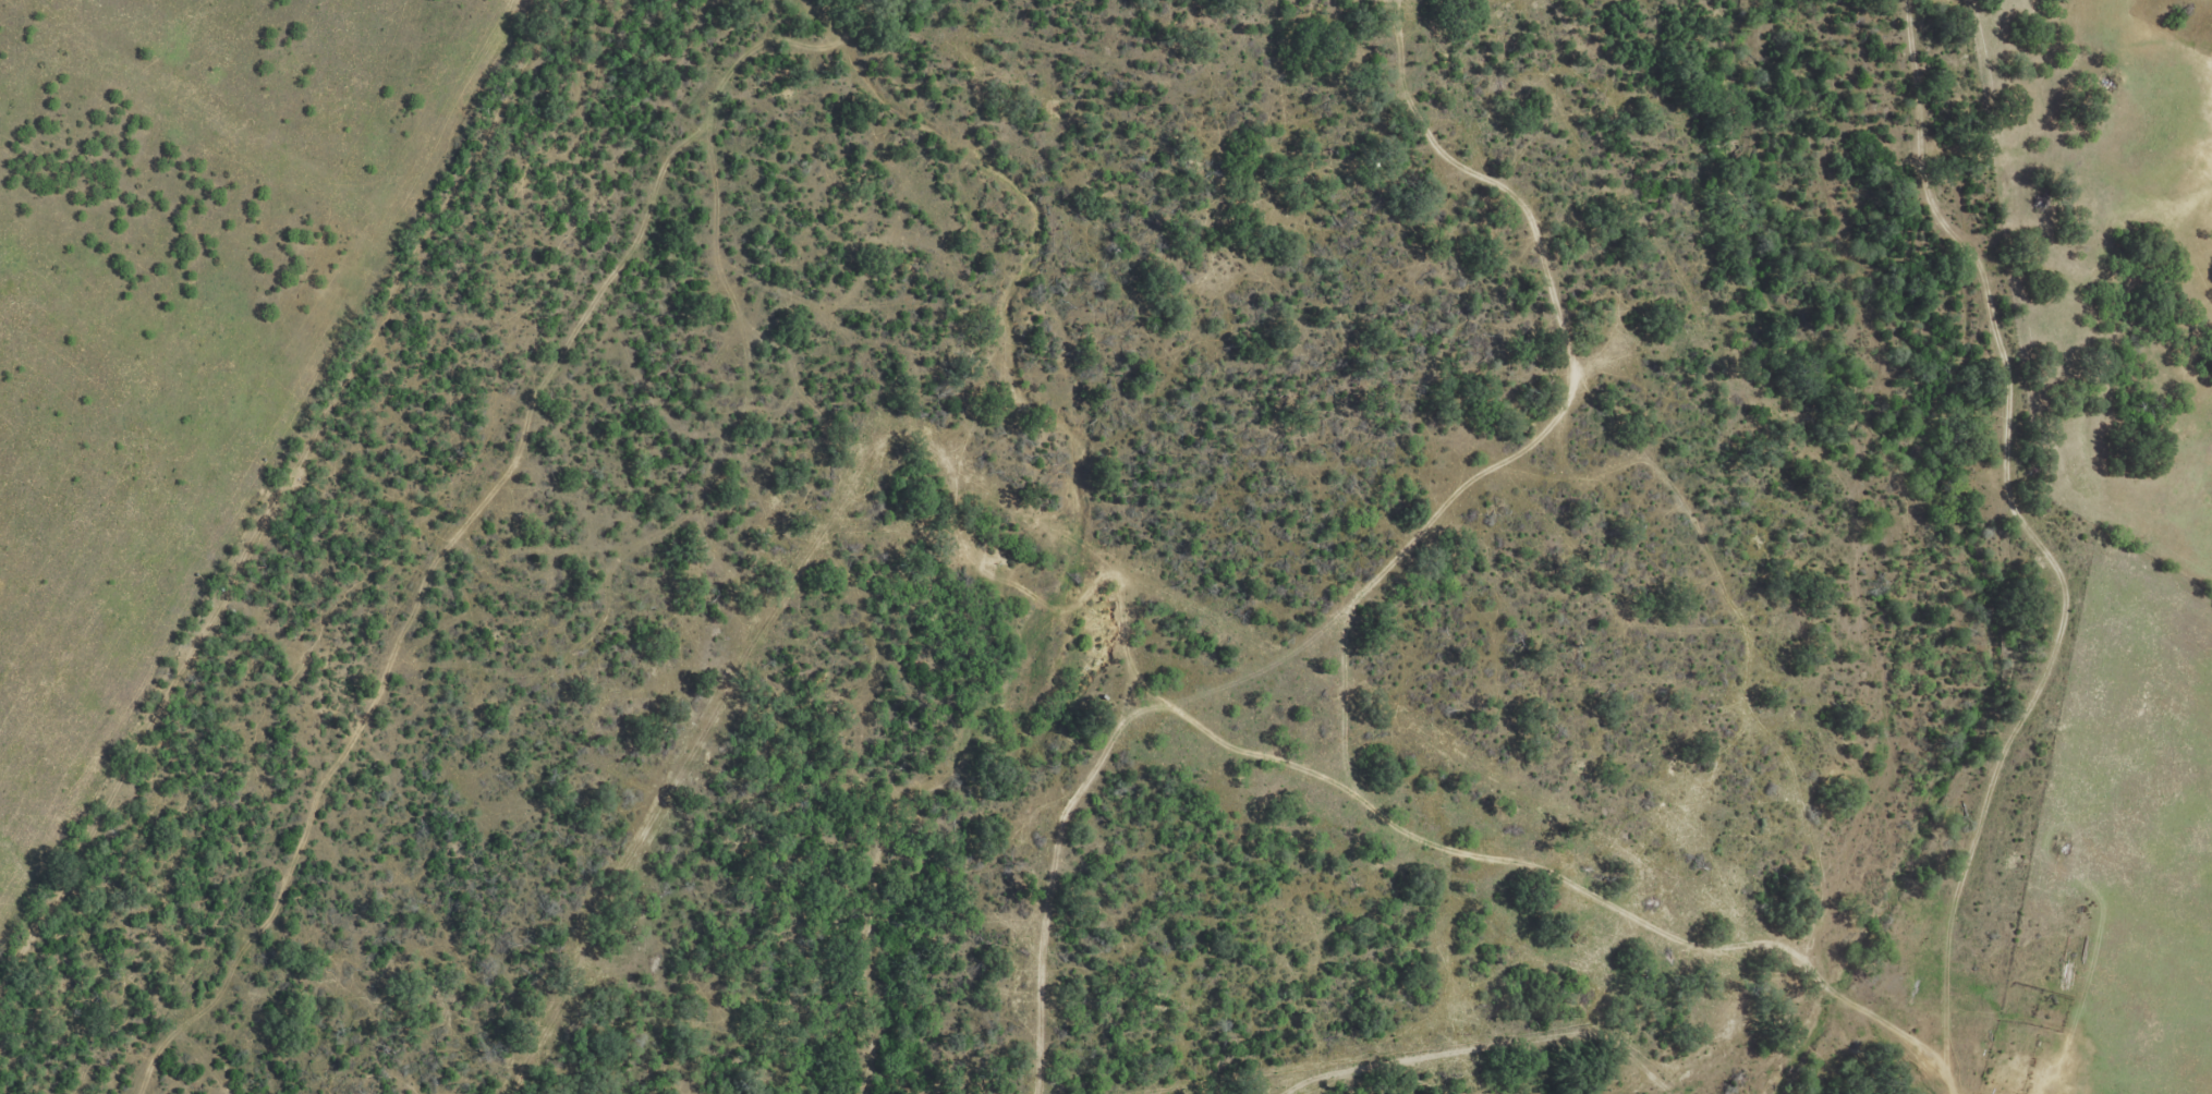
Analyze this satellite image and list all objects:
river: (1750, 277)
river: (1947, 800)

